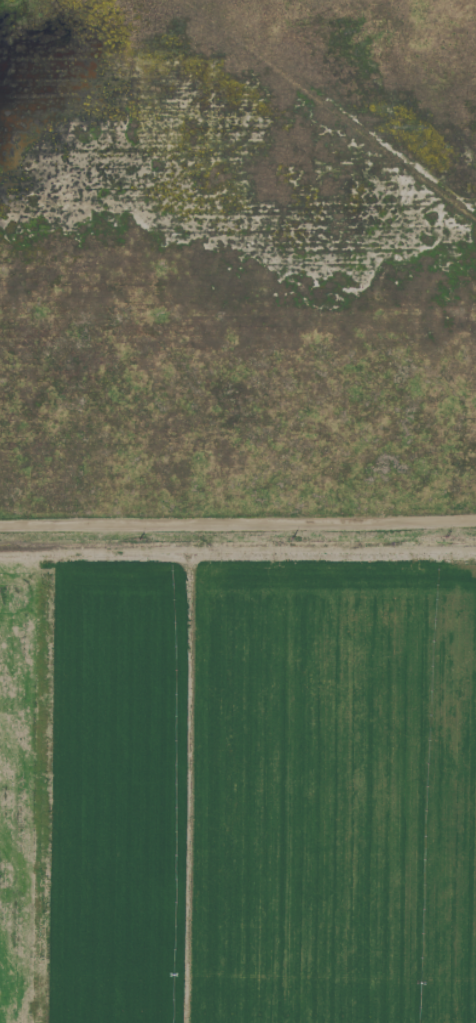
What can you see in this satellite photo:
road: (238, 525)

